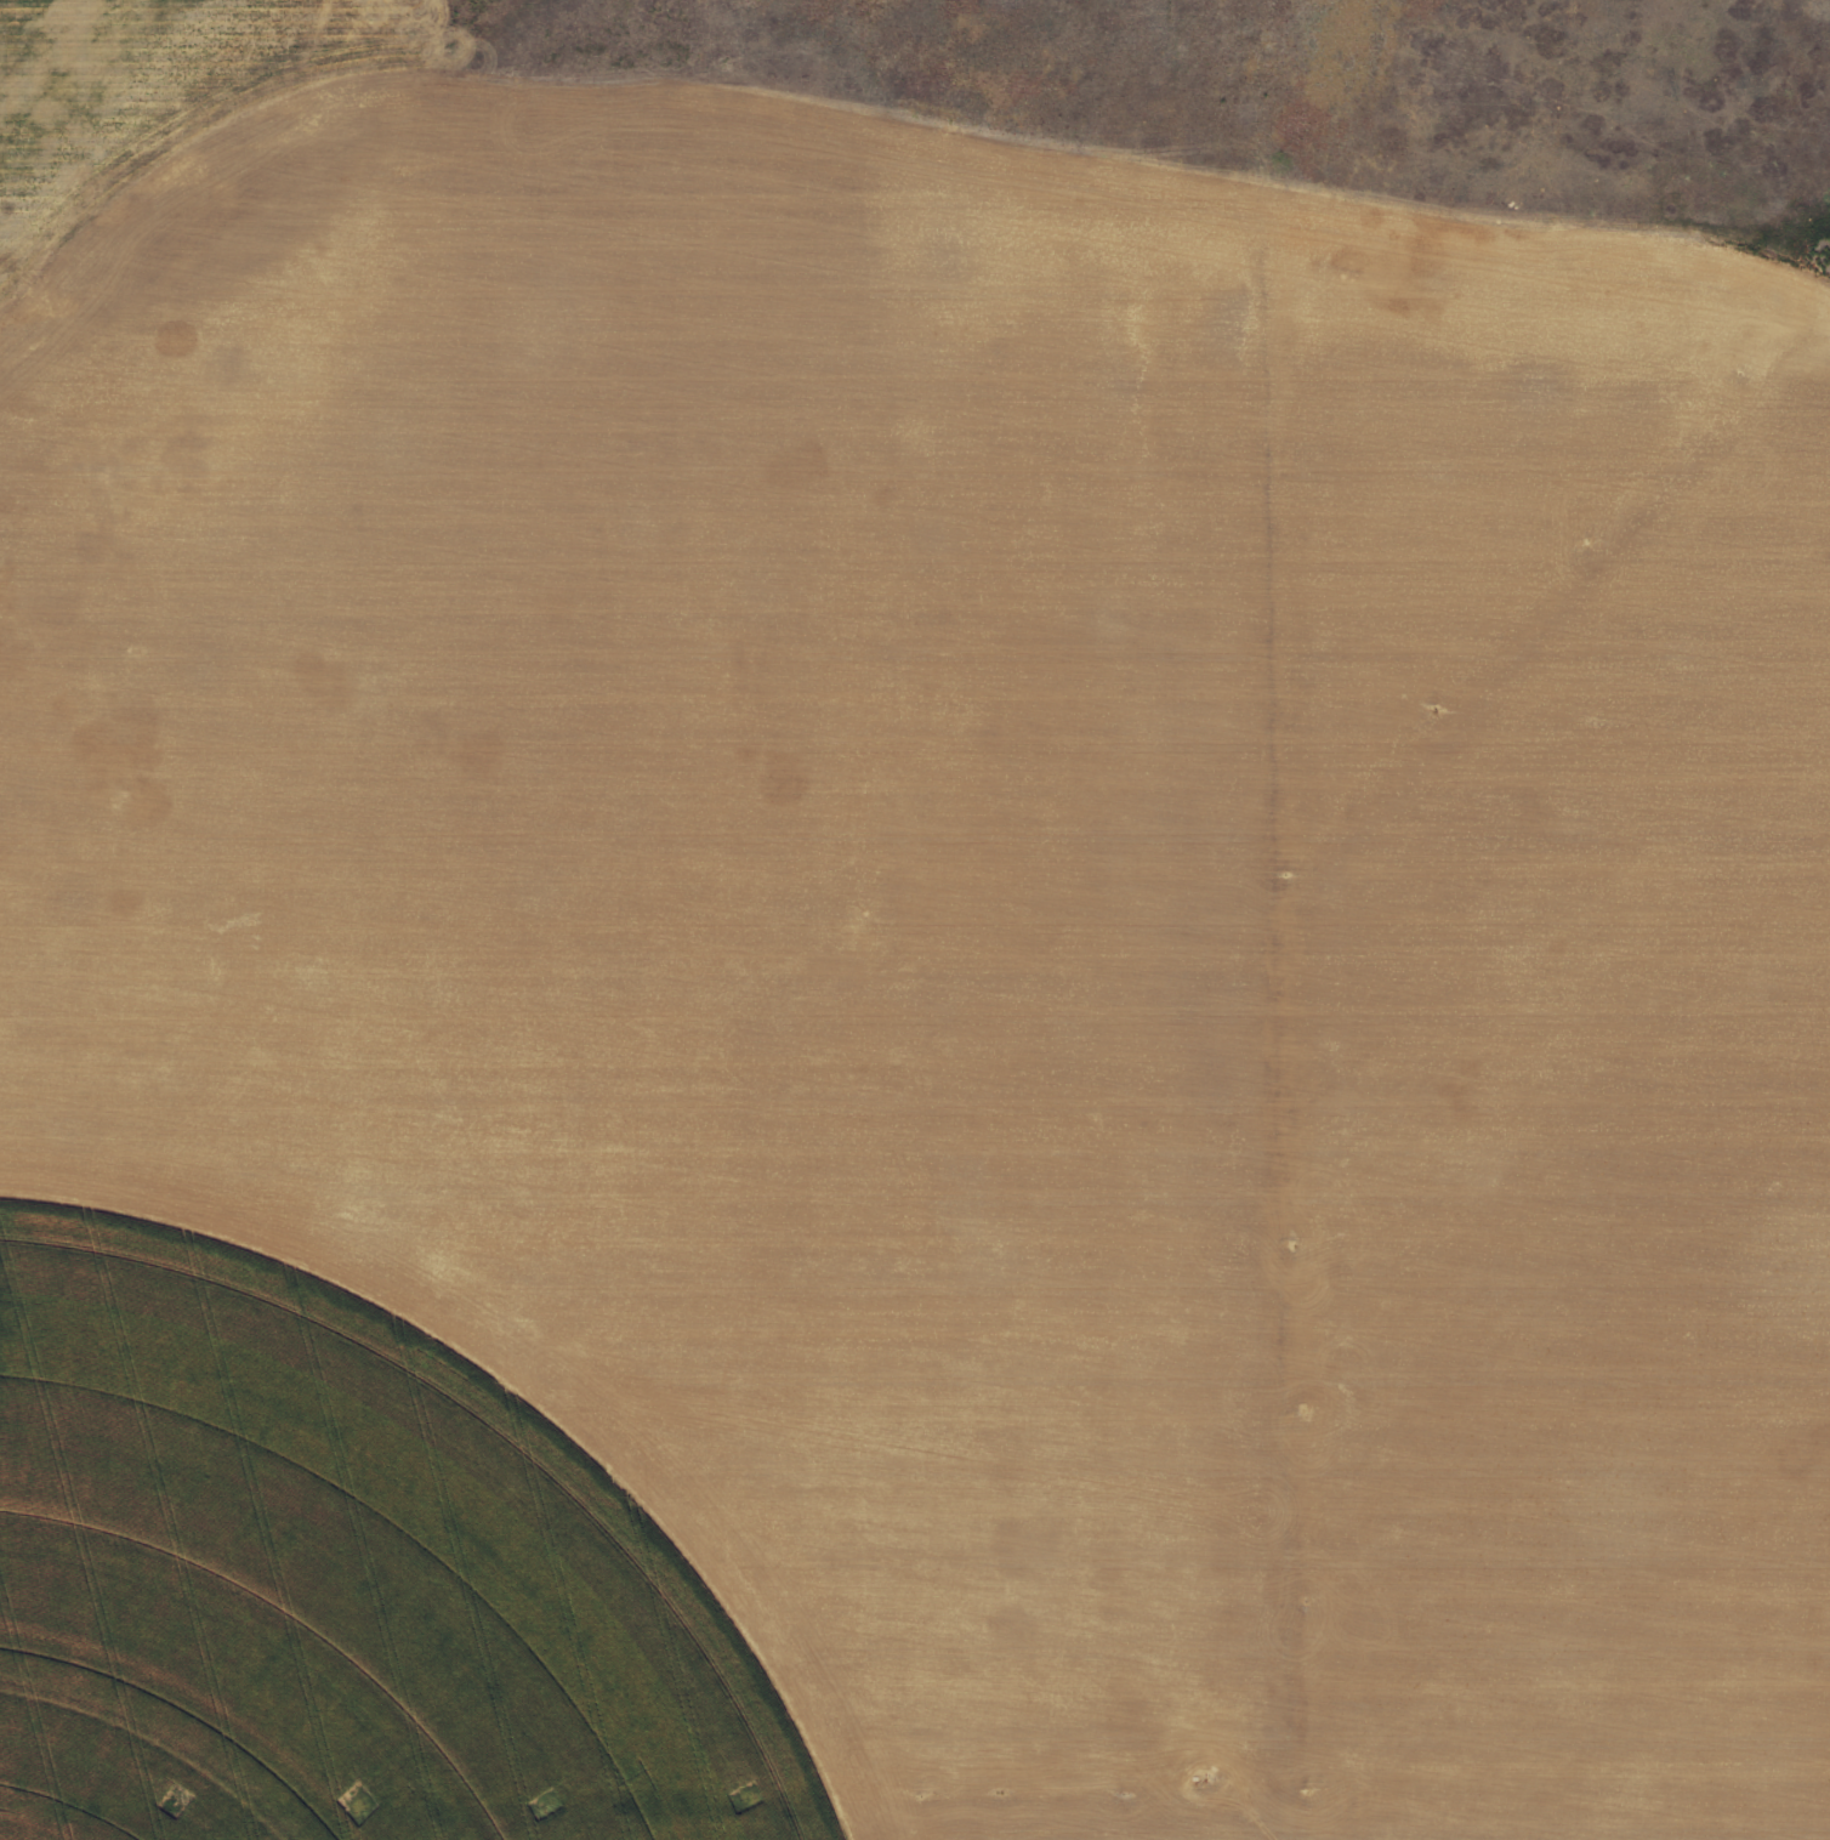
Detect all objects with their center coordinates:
road: (815, 1436)

